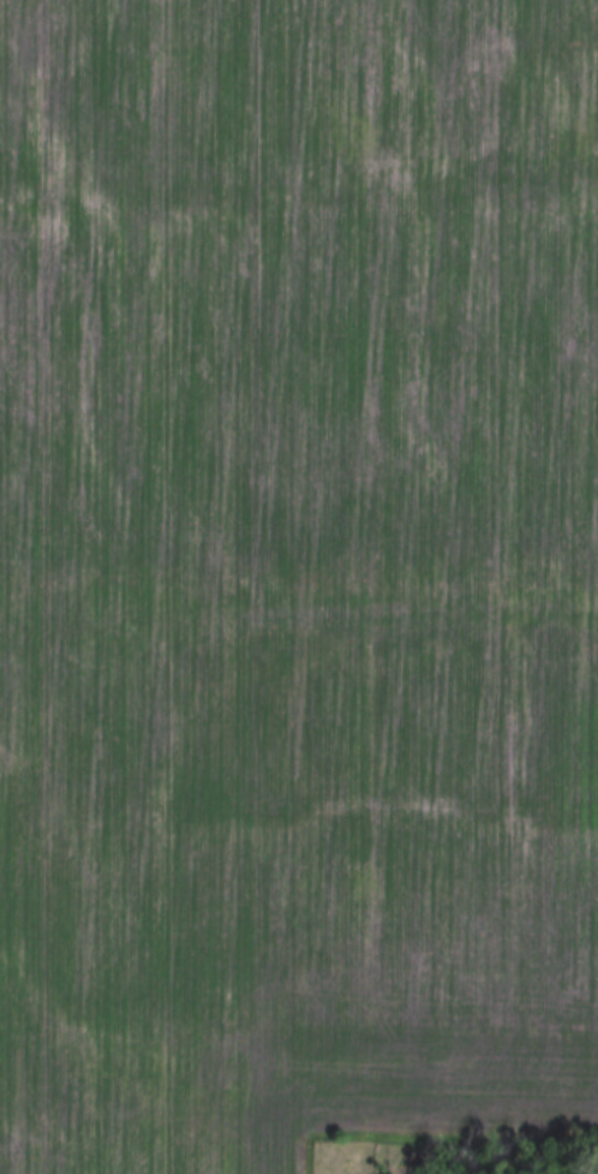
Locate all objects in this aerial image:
crop: (298, 287)
crop: (295, 865)

